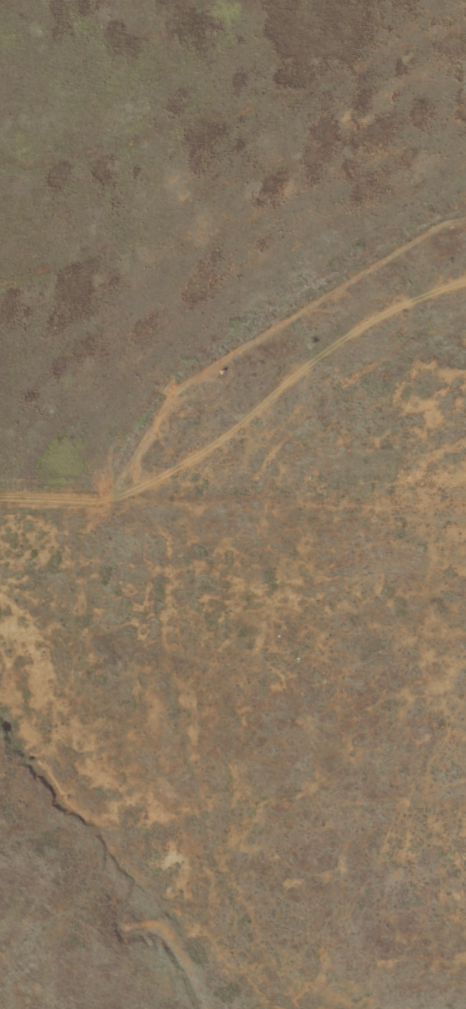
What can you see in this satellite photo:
road: (243, 428)

